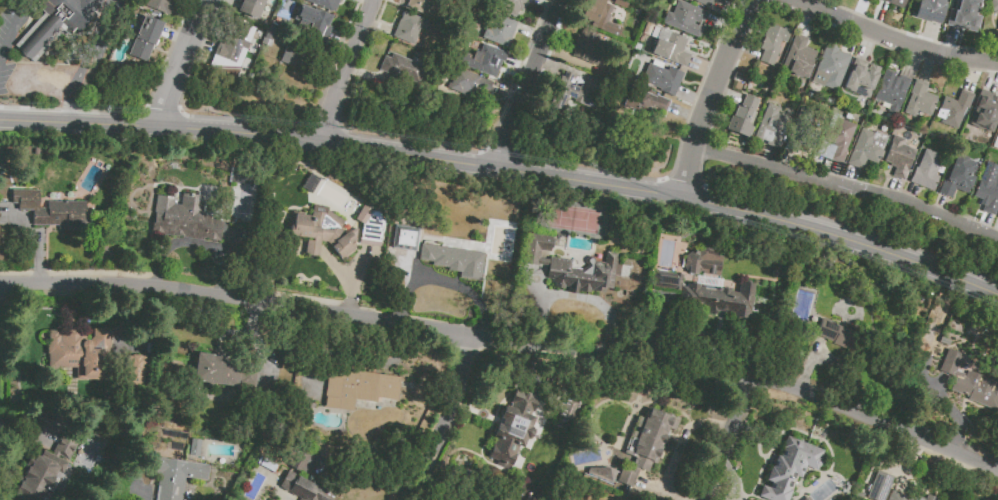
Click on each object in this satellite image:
road: (405, 0)
road: (370, 1)
road: (234, 2)
building: (621, 3)
building: (704, 3)
building: (896, 3)
road: (196, 5)
road: (202, 5)
building: (322, 5)
building: (513, 5)
road: (549, 5)
building: (162, 6)
building: (420, 6)
road: (823, 6)
building: (251, 7)
building: (994, 7)
road: (731, 9)
building: (930, 10)
building: (963, 11)
road: (184, 13)
road: (861, 14)
building: (599, 15)
building: (686, 19)
building: (314, 22)
road: (809, 22)
building: (60, 24)
road: (380, 25)
building: (409, 28)
road: (723, 28)
building: (997, 28)
road: (568, 29)
building: (499, 30)
road: (15, 34)
building: (269, 35)
road: (535, 35)
parking lot: (12, 36)
road: (174, 36)
building: (145, 39)
road: (850, 39)
road: (892, 40)
road: (932, 40)
road: (200, 42)
building: (233, 44)
building: (772, 44)
road: (869, 45)
road: (953, 45)
parking lot: (99, 46)
building: (587, 47)
building: (670, 48)
road: (748, 49)
road: (93, 51)
building: (295, 58)
building: (808, 59)
building: (488, 60)
road: (911, 63)
road: (525, 65)
road: (553, 67)
building: (830, 67)
road: (176, 68)
building: (402, 68)
road: (707, 68)
road: (927, 68)
road: (346, 70)
road: (366, 75)
road: (973, 77)
building: (662, 78)
building: (860, 79)
road: (992, 79)
building: (468, 82)
road: (535, 84)
building: (891, 90)
building: (576, 91)
road: (512, 94)
road: (729, 96)
road: (696, 98)
road: (713, 99)
building: (920, 100)
building: (649, 103)
building: (954, 109)
road: (72, 112)
building: (984, 112)
road: (688, 115)
building: (743, 116)
road: (80, 122)
building: (772, 127)
building: (803, 134)
building: (838, 138)
road: (332, 143)
building: (866, 148)
building: (899, 157)
road: (767, 158)
road: (789, 162)
building: (927, 170)
road: (834, 174)
building: (957, 176)
road: (853, 178)
road: (849, 187)
building: (989, 188)
road: (896, 189)
road: (916, 195)
road: (943, 206)
building: (51, 211)
road: (754, 217)
building: (185, 219)
building: (370, 224)
road: (986, 224)
building: (322, 232)
building: (405, 238)
building: (454, 259)
building: (704, 261)
building: (547, 263)
building: (710, 296)
building: (837, 335)
road: (507, 340)
building: (82, 353)
building: (216, 370)
building: (135, 371)
building: (246, 374)
building: (970, 382)
building: (358, 388)
building: (569, 407)
road: (448, 421)
building: (512, 430)
building: (651, 438)
road: (735, 439)
building: (790, 469)
building: (45, 470)
building: (599, 474)
building: (176, 476)
building: (297, 485)
building: (879, 486)
building: (908, 497)

